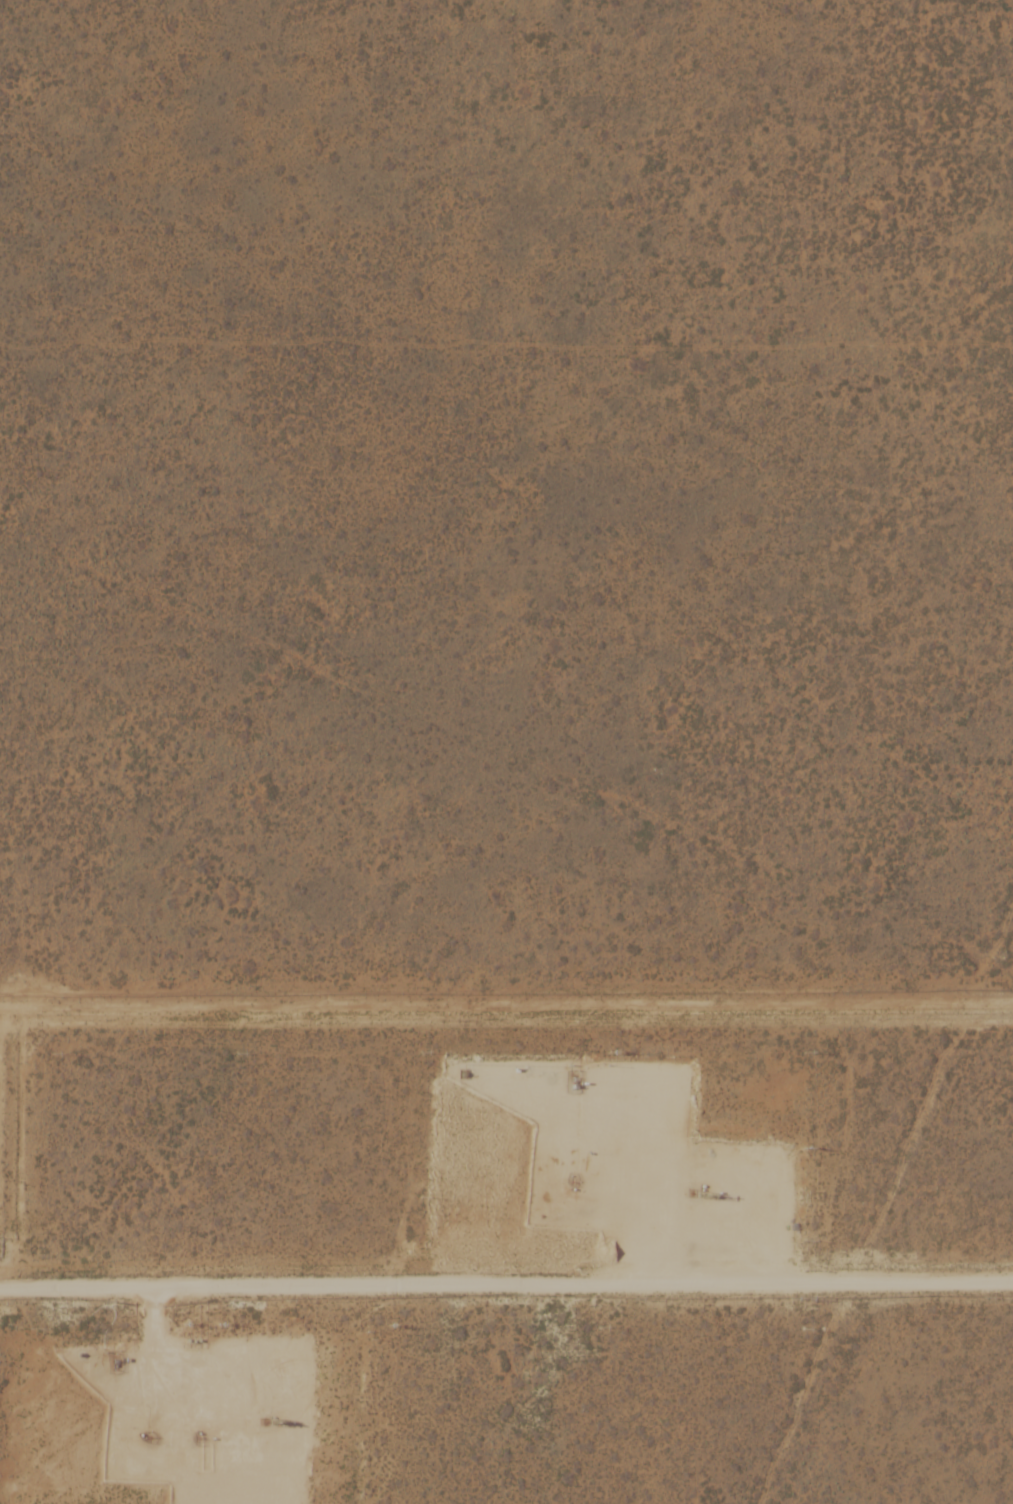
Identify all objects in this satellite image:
road: (506, 1282)
road: (144, 1366)

